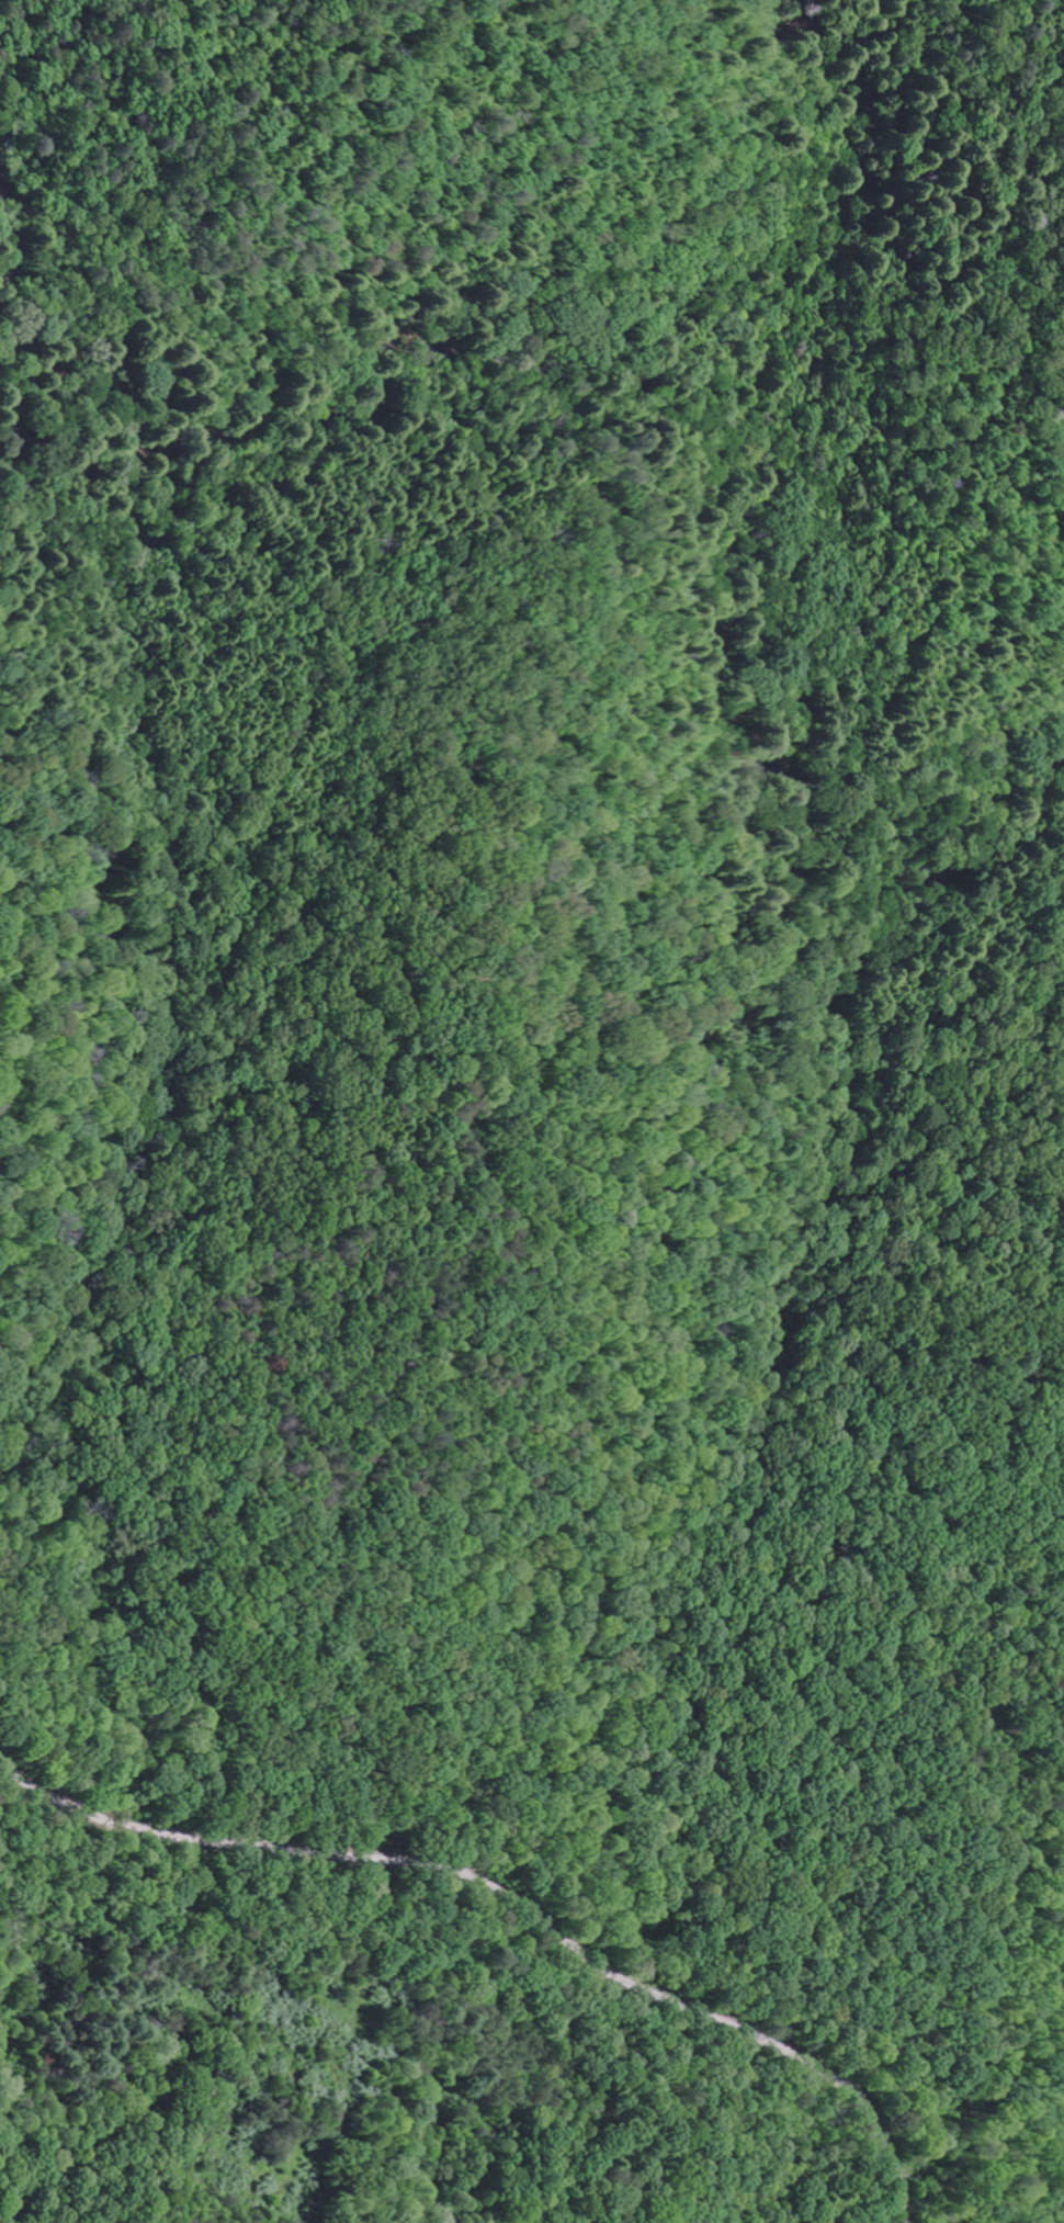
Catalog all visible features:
road: (512, 1899)

